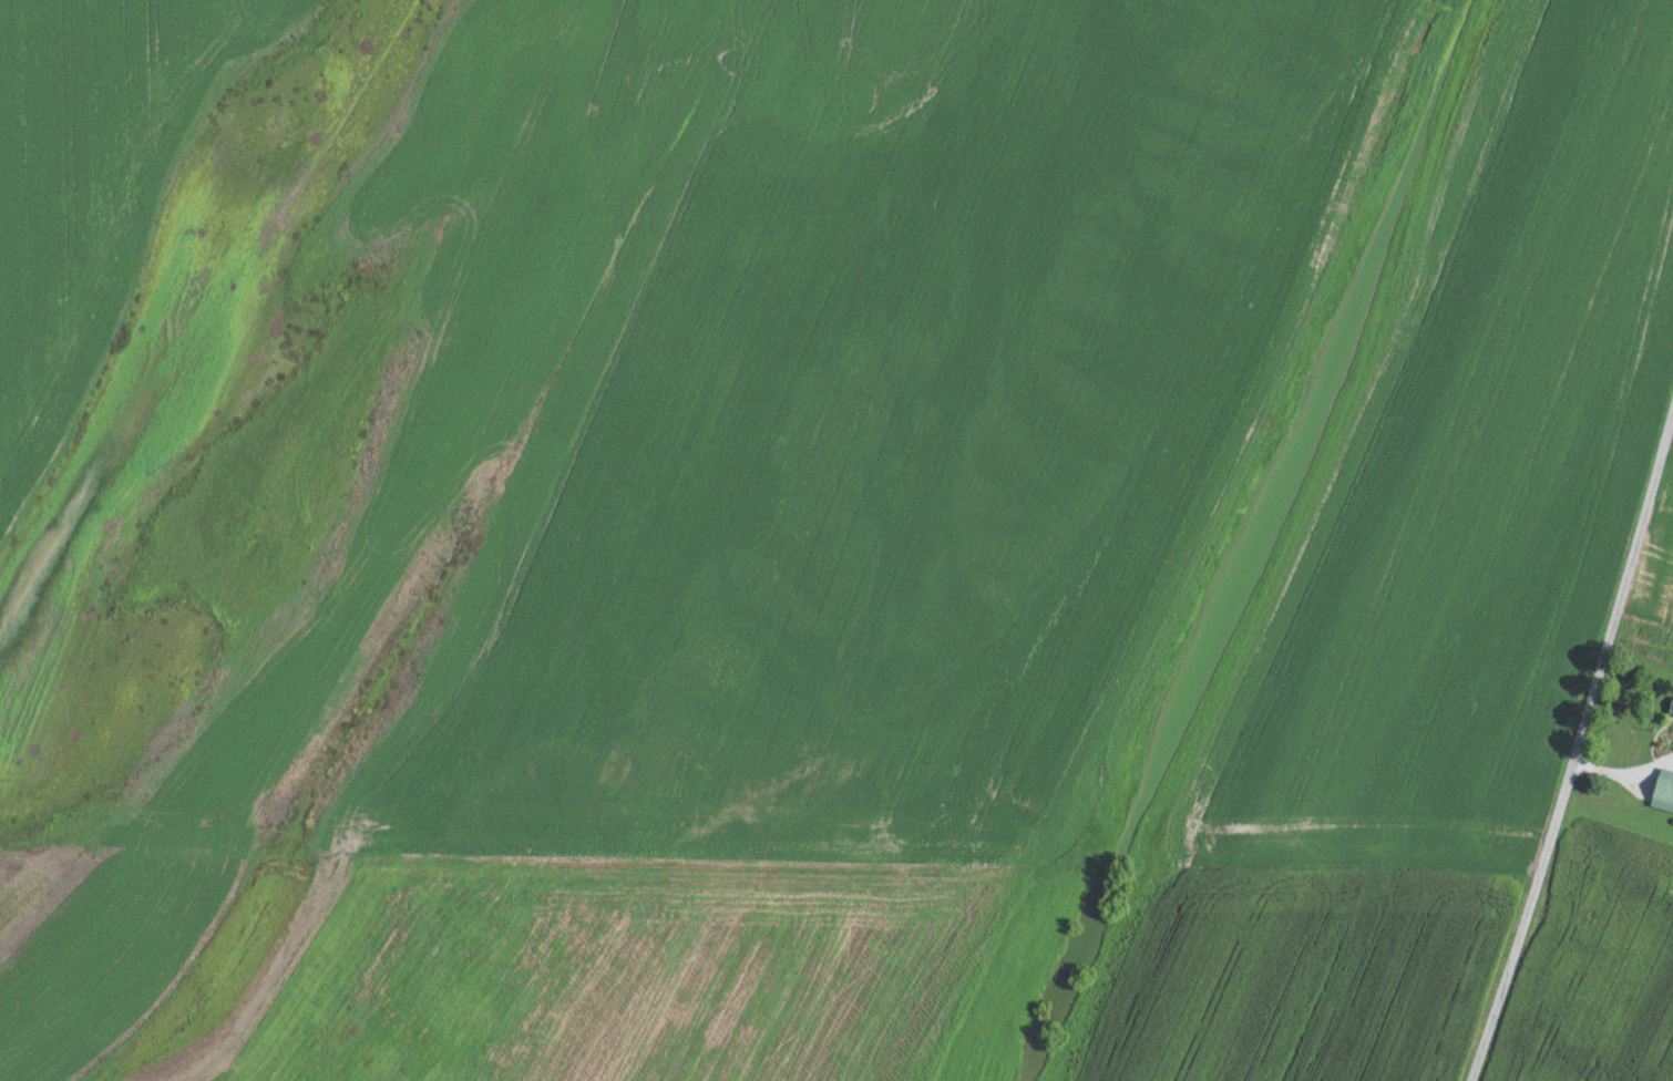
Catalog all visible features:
building: (1670, 706)
road: (1576, 744)
road: (1622, 769)
building: (1663, 789)

